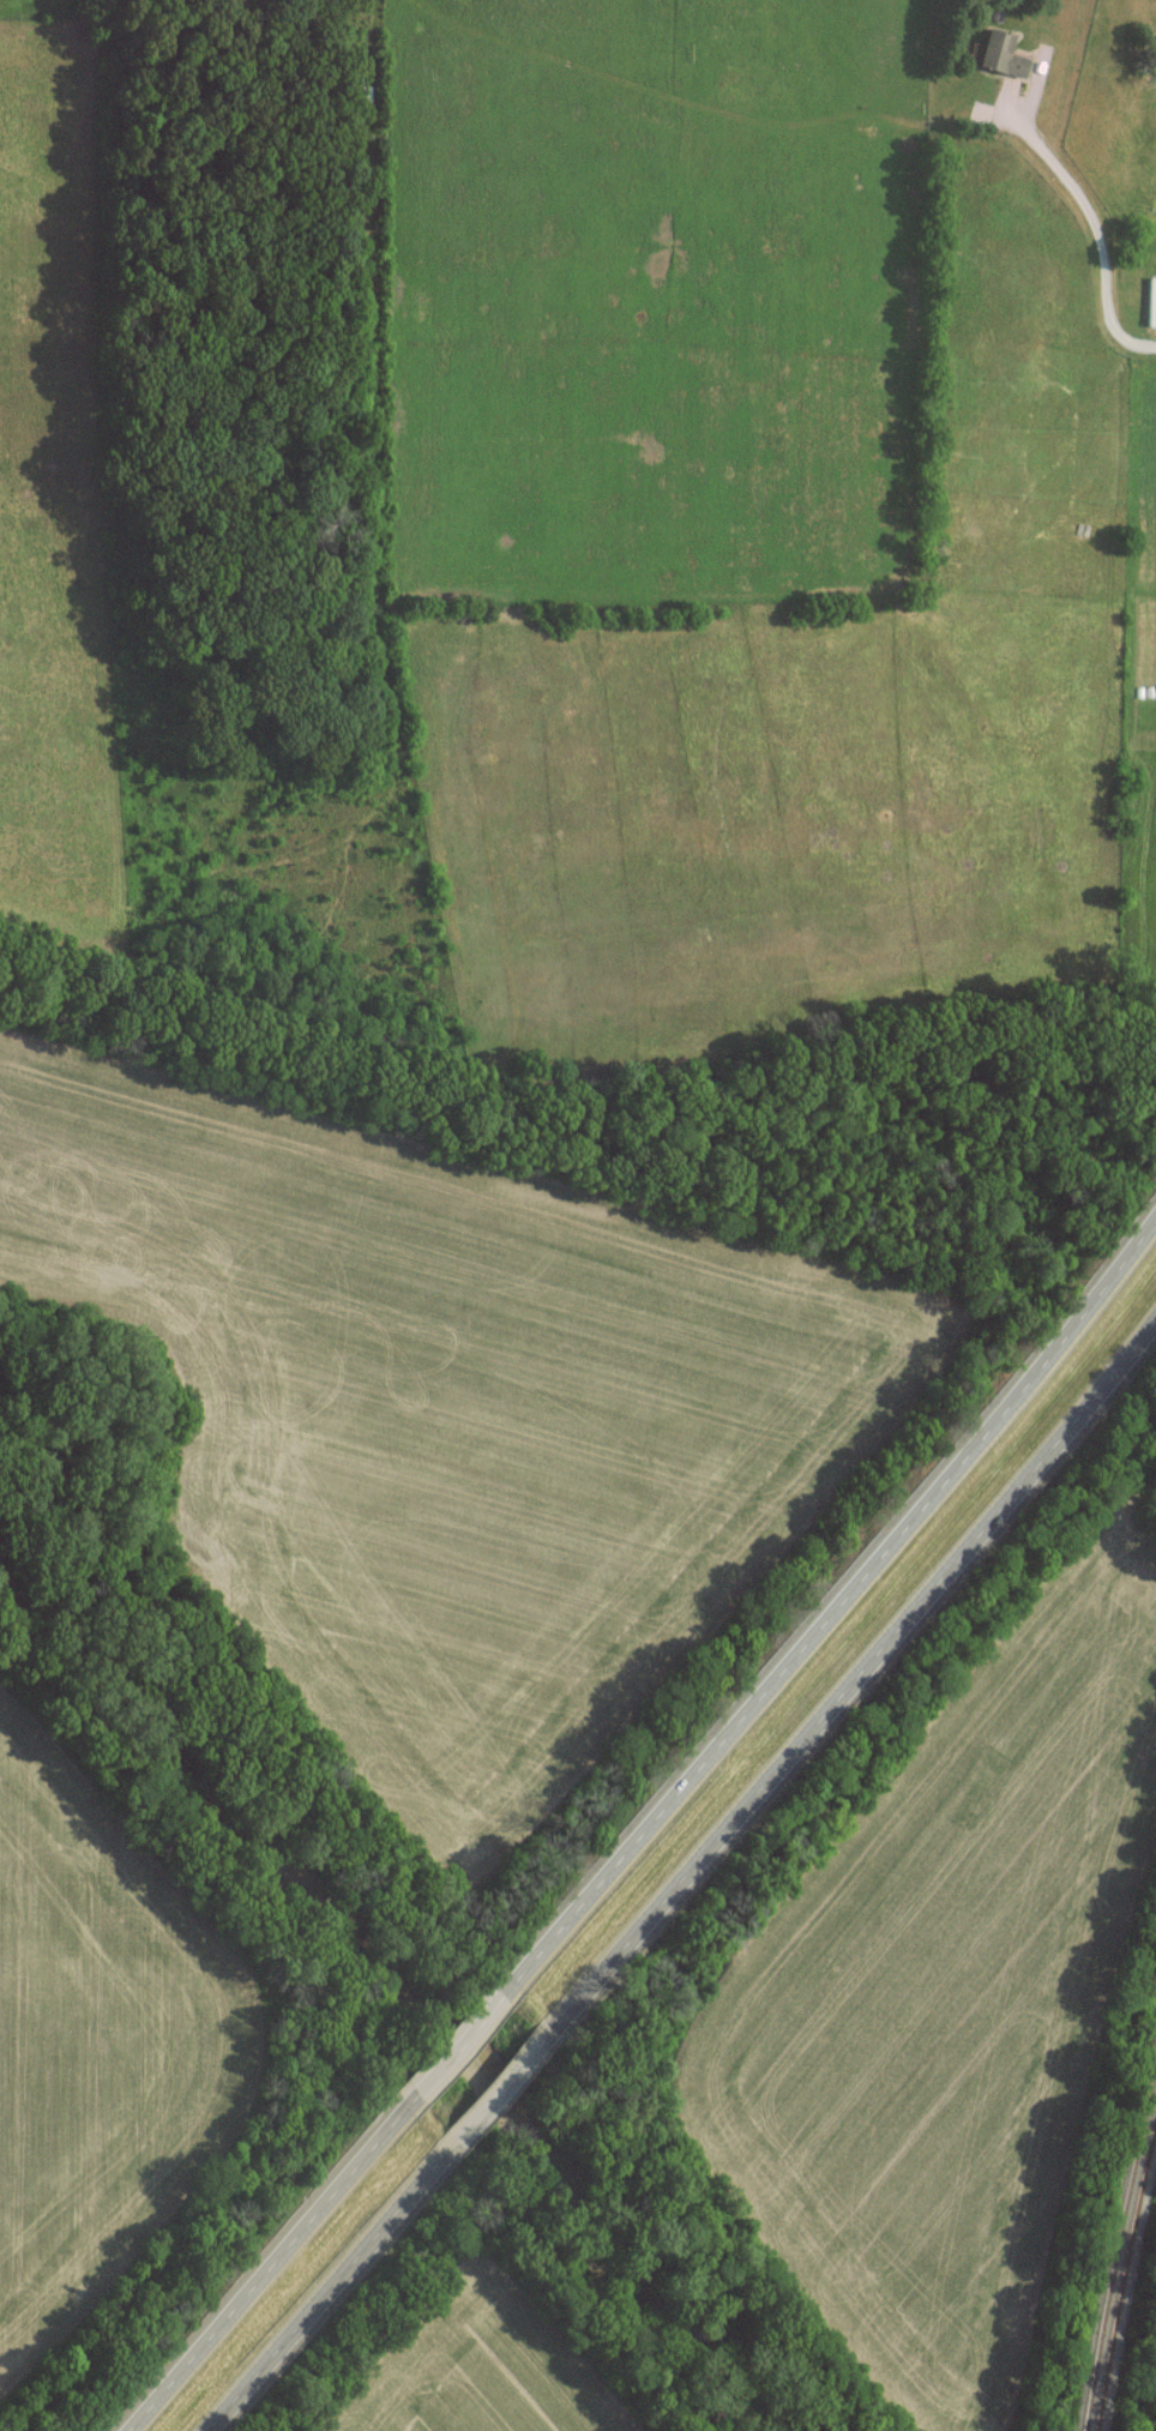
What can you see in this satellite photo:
building: (997, 54)
road: (1100, 223)
building: (1150, 302)
road: (650, 1831)
road: (686, 1883)
railway: (1115, 2244)
railway: (1122, 2275)

